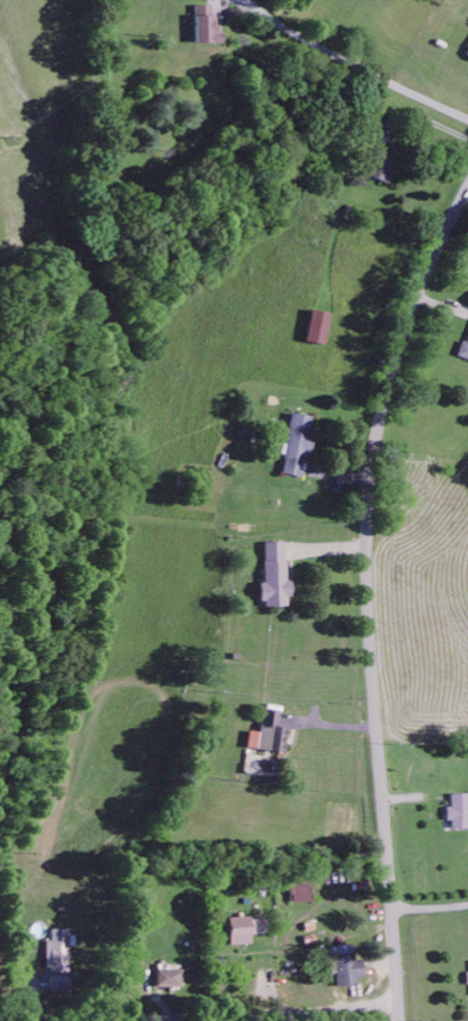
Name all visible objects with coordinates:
building: (209, 28)
building: (384, 167)
building: (318, 330)
building: (464, 353)
building: (298, 447)
building: (277, 579)
road: (367, 596)
building: (271, 737)
building: (459, 814)
building: (306, 895)
building: (248, 931)
building: (61, 961)
building: (349, 968)
building: (171, 980)
road: (265, 1013)

